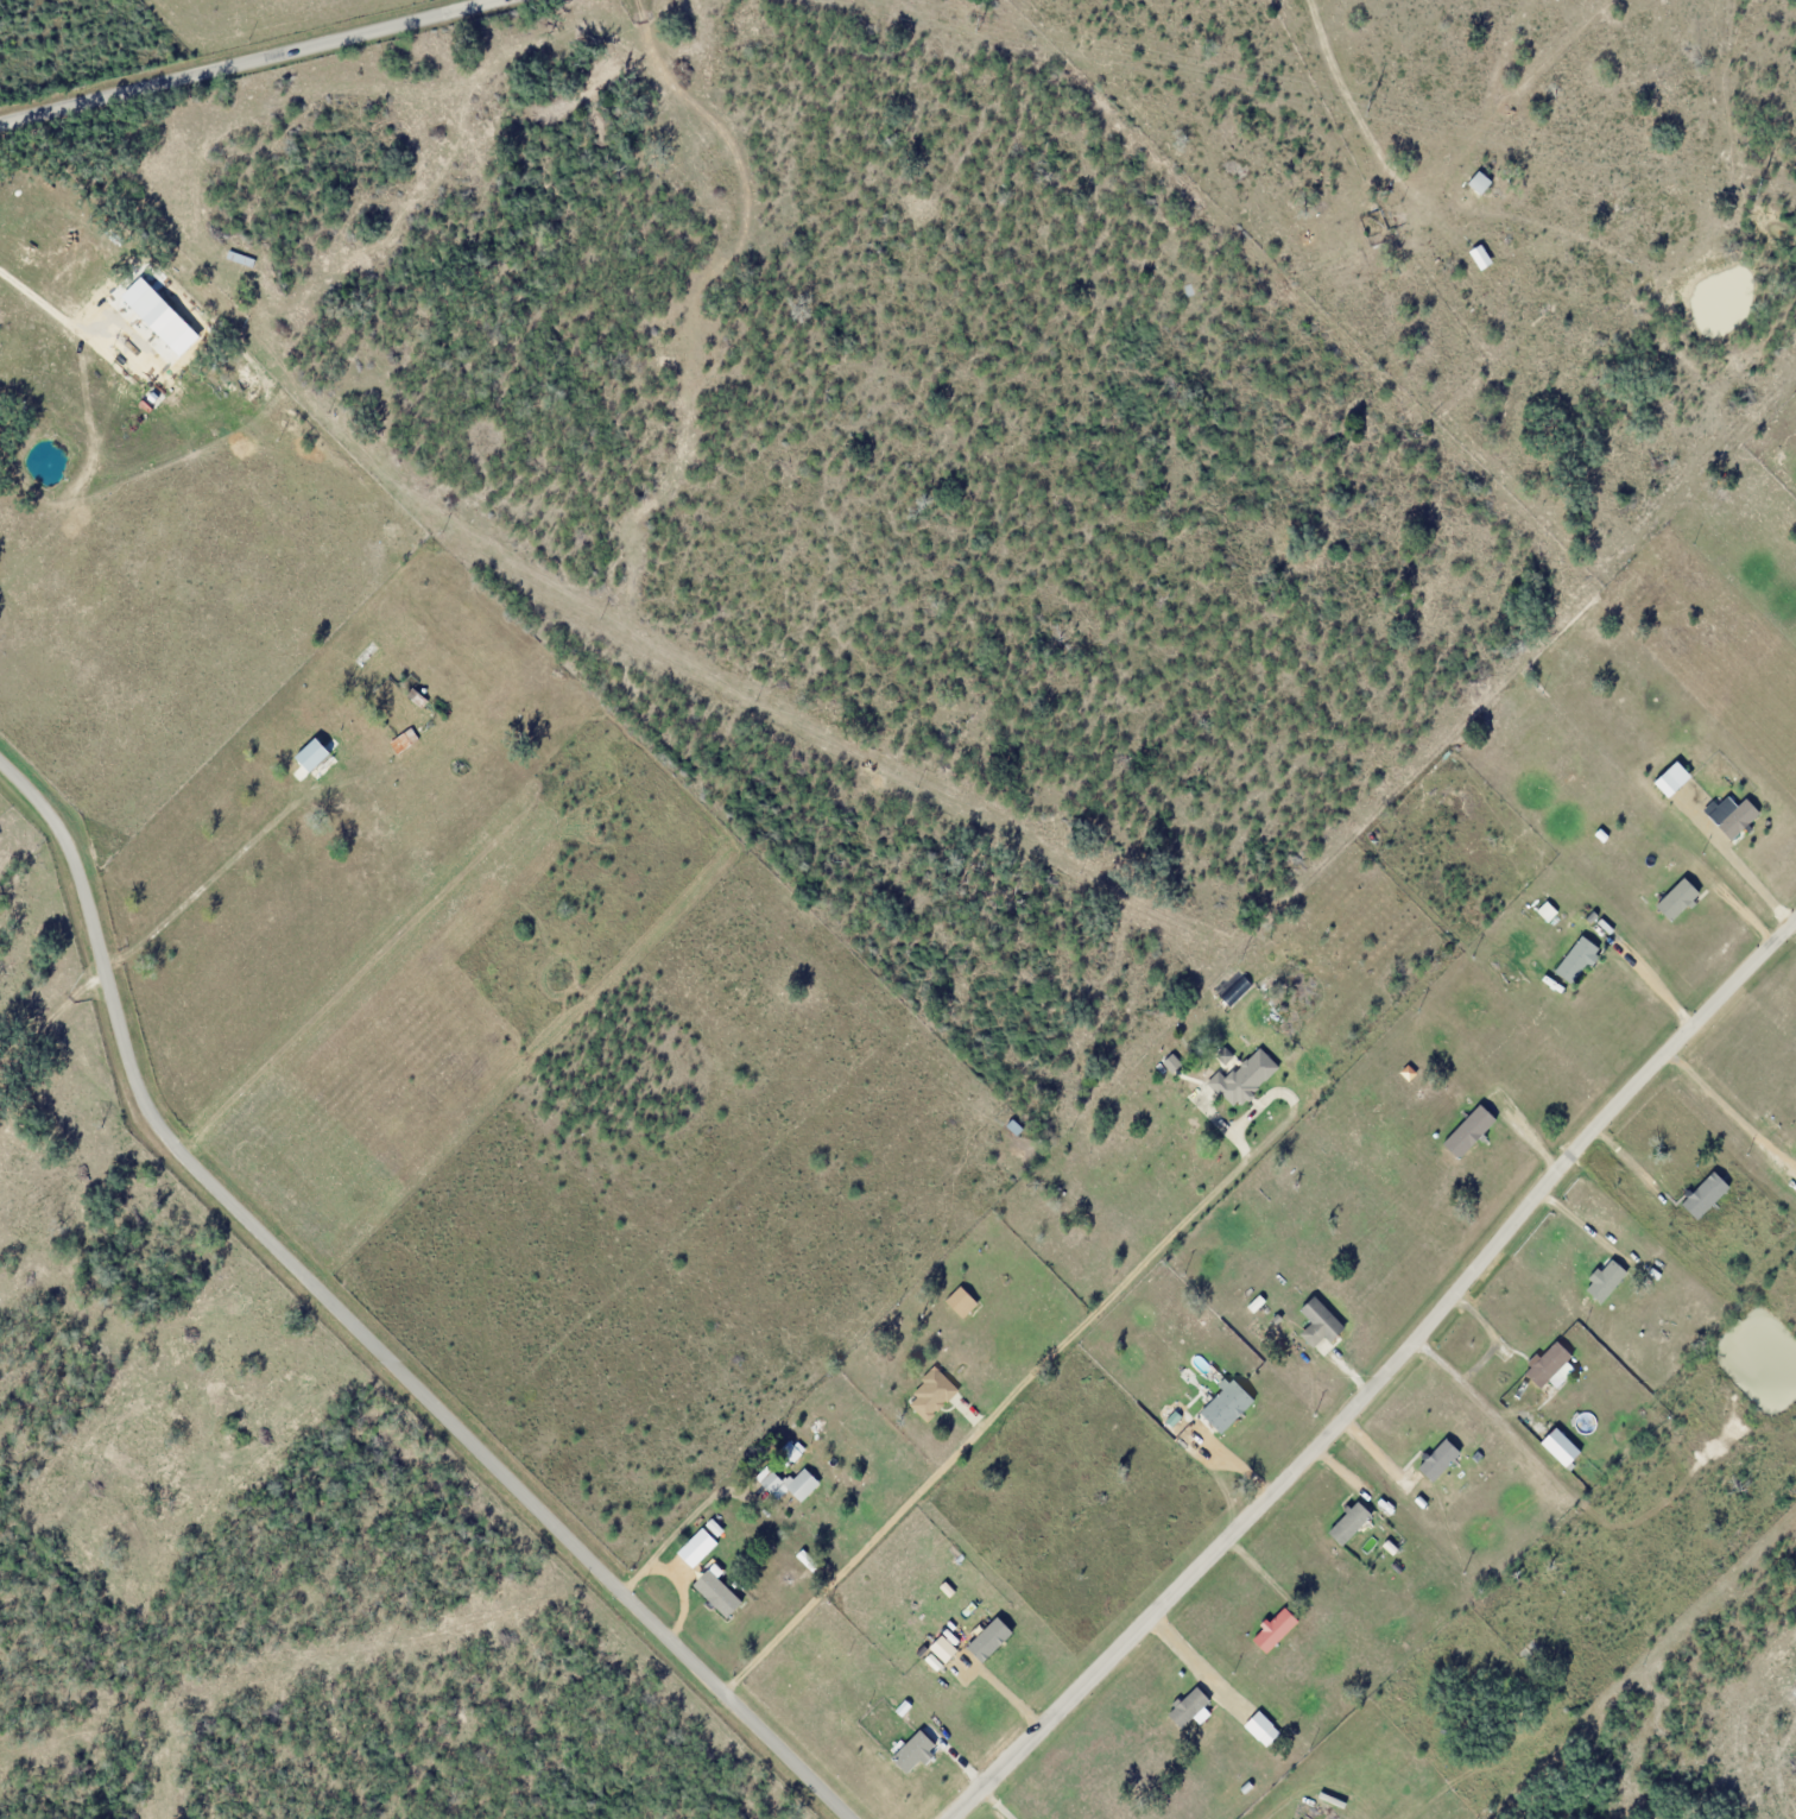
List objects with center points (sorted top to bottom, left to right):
power tower: (976, 20)
road: (239, 57)
power tower: (1368, 106)
building: (1478, 182)
power tower: (1758, 187)
building: (1395, 221)
building: (240, 258)
building: (417, 697)
building: (404, 740)
building: (1602, 928)
building: (1575, 959)
road: (51, 1019)
building: (1223, 1056)
building: (1171, 1062)
building: (1241, 1076)
building: (1468, 1131)
building: (1653, 1274)
building: (1605, 1280)
building: (960, 1300)
building: (1320, 1326)
road: (361, 1332)
building: (1548, 1363)
road: (1379, 1376)
building: (931, 1392)
road: (1010, 1397)
building: (1560, 1447)
building: (791, 1485)
building: (1273, 1629)
building: (1283, 1712)

